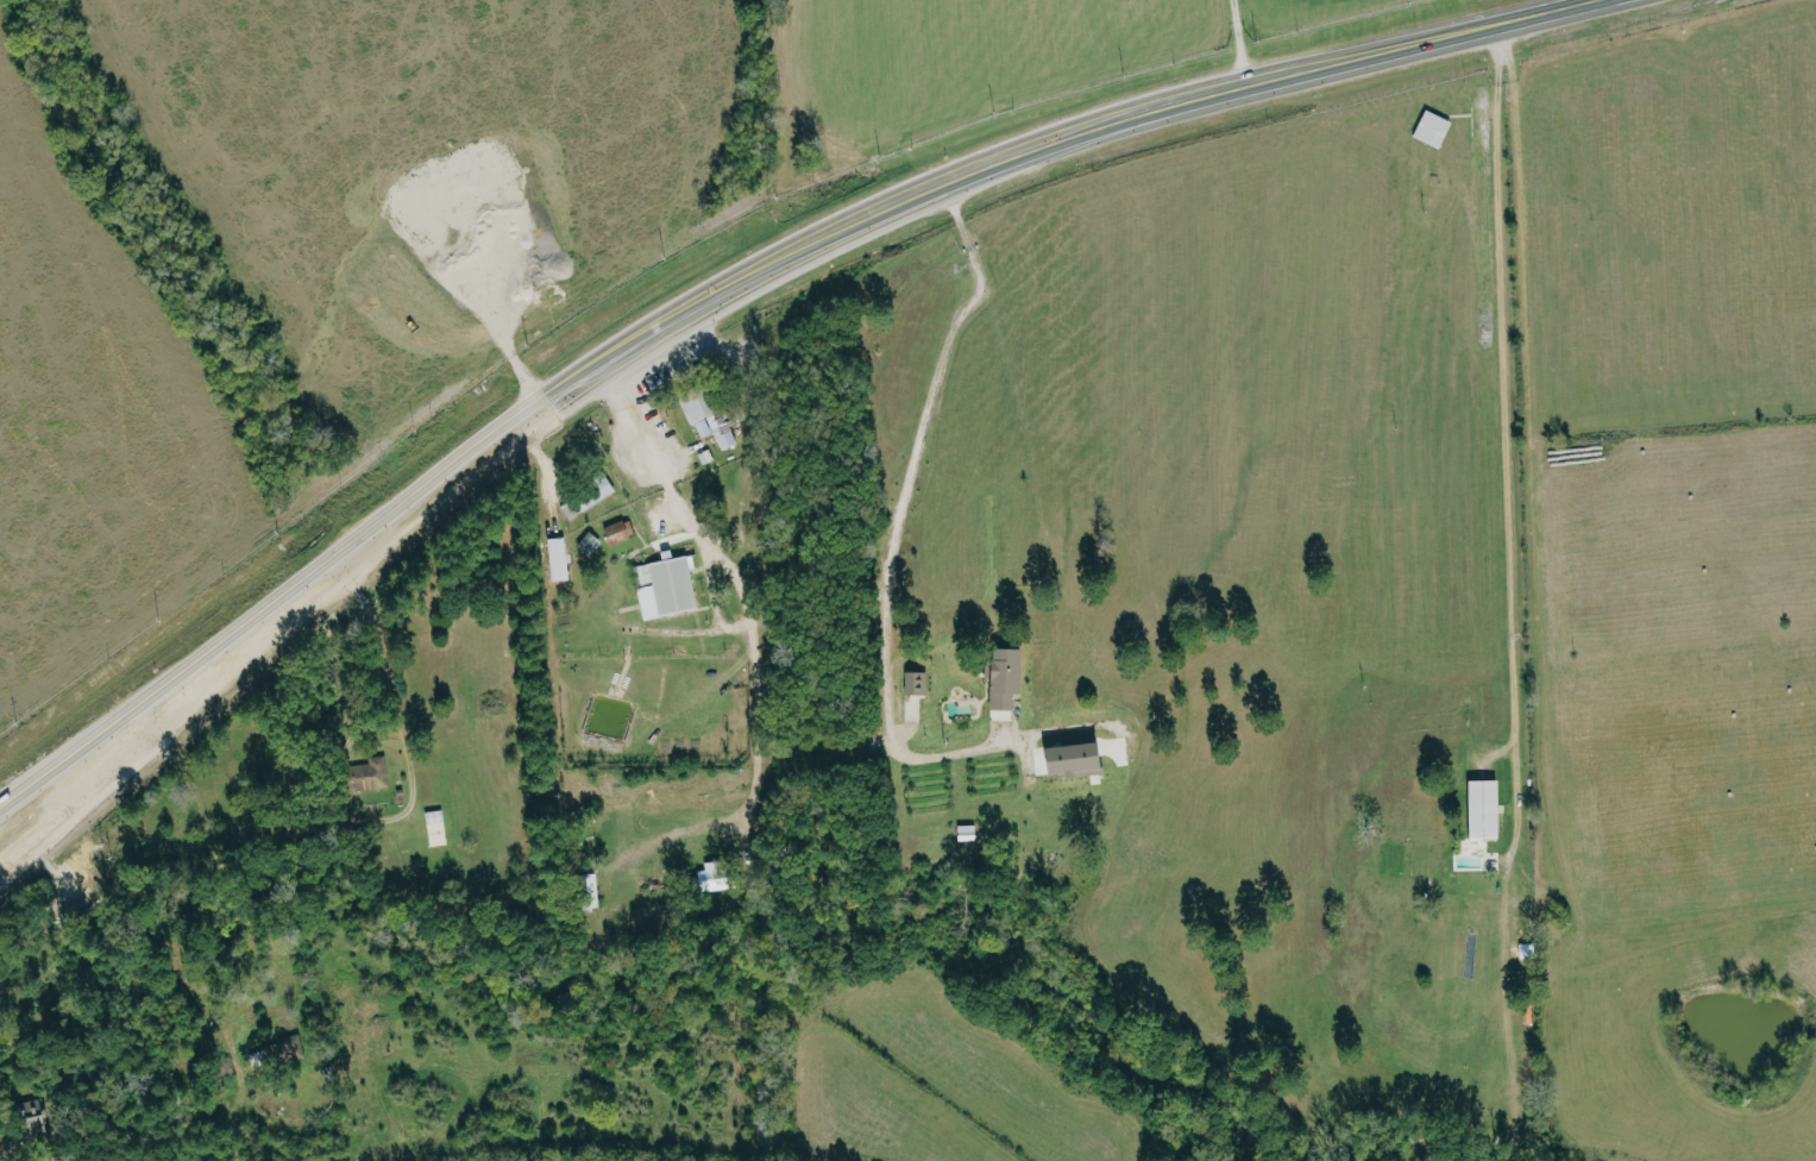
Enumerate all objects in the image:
road: (1237, 43)
building: (1431, 128)
road: (937, 189)
building: (704, 415)
road: (636, 448)
building: (704, 456)
building: (585, 496)
road: (899, 517)
building: (616, 531)
building: (587, 542)
building: (555, 558)
building: (662, 585)
building: (999, 676)
building: (912, 682)
road: (175, 683)
road: (176, 714)
building: (1067, 758)
building: (364, 774)
building: (1479, 808)
building: (433, 827)
building: (282, 1049)
building: (31, 1116)

